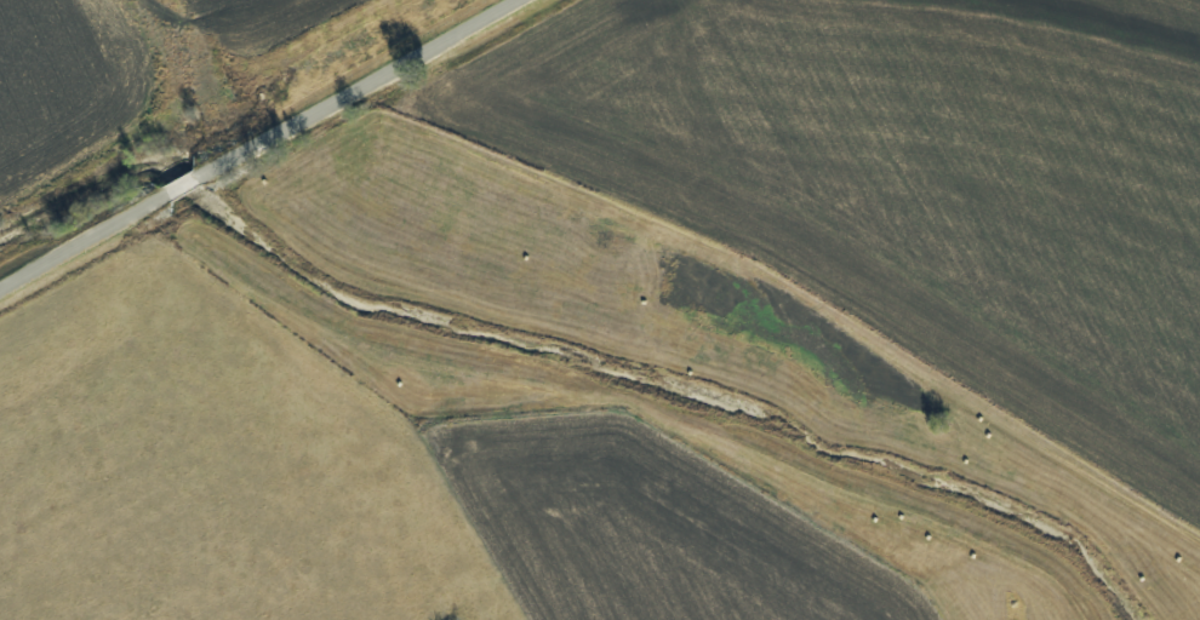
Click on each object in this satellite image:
road: (262, 147)

